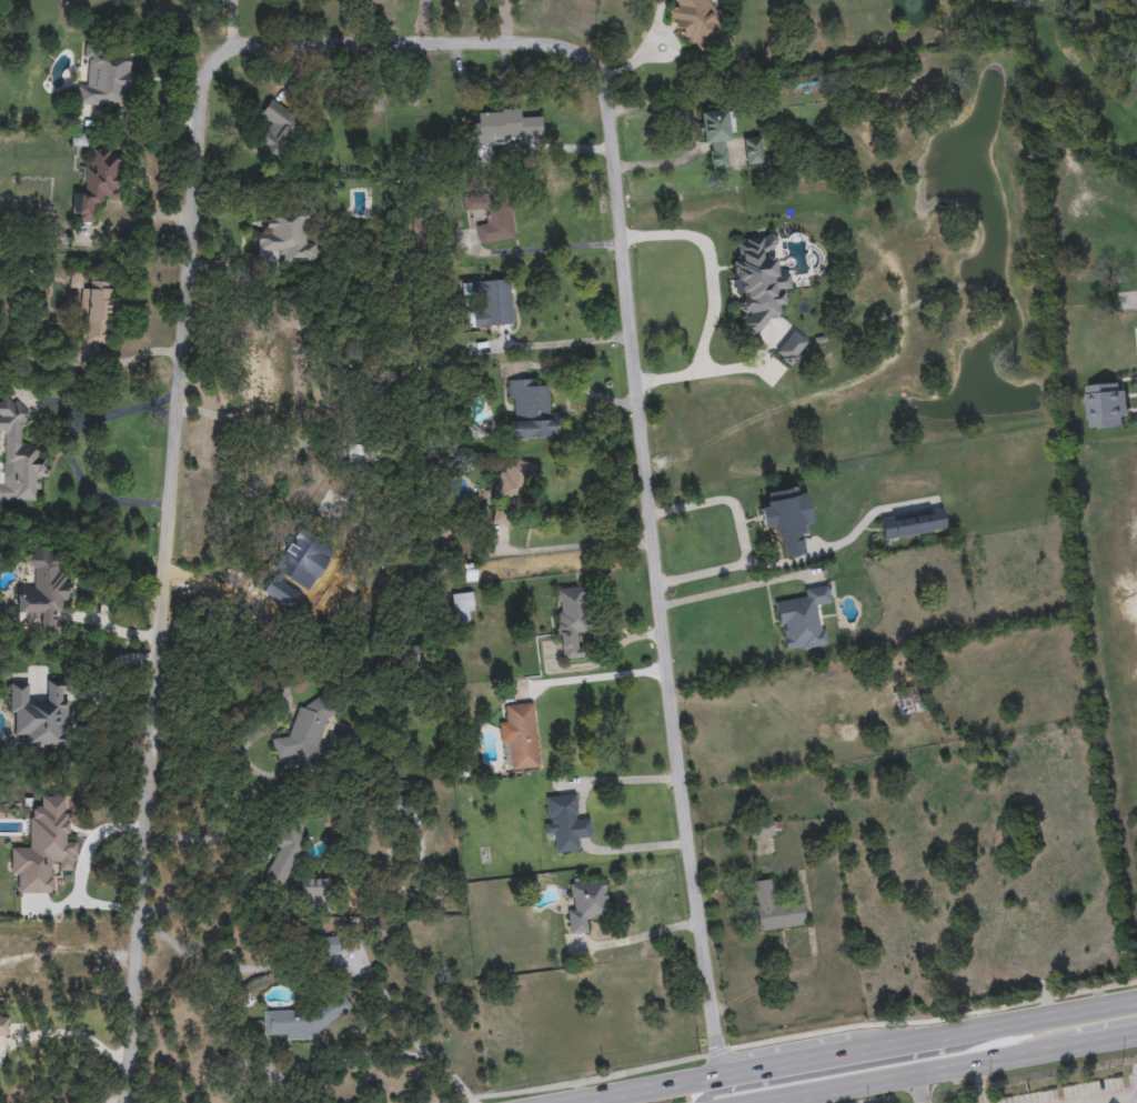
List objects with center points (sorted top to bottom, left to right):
road: (504, 21)
road: (420, 22)
road: (232, 24)
building: (700, 27)
road: (391, 43)
building: (105, 80)
road: (142, 122)
building: (276, 127)
building: (504, 127)
building: (716, 134)
building: (752, 150)
building: (94, 189)
building: (285, 237)
building: (76, 280)
road: (706, 297)
road: (1130, 300)
building: (493, 304)
building: (98, 312)
road: (571, 343)
building: (258, 372)
building: (1106, 407)
building: (530, 411)
road: (254, 430)
road: (70, 450)
building: (365, 455)
building: (17, 458)
building: (511, 488)
road: (726, 500)
building: (787, 519)
building: (912, 523)
road: (574, 549)
building: (301, 561)
road: (781, 565)
building: (43, 591)
building: (462, 608)
building: (571, 620)
building: (803, 620)
road: (602, 679)
road: (282, 706)
building: (39, 715)
building: (304, 734)
building: (519, 738)
road: (624, 782)
building: (574, 820)
road: (592, 822)
building: (761, 828)
road: (636, 850)
building: (285, 853)
road: (79, 872)
road: (246, 883)
building: (313, 890)
building: (585, 904)
building: (774, 909)
building: (329, 946)
road: (329, 970)
road: (995, 1030)
road: (66, 1034)
road: (793, 1037)
road: (1104, 1044)
road: (334, 1065)
road: (787, 1070)
road: (1030, 1071)
road: (835, 1072)
road: (929, 1076)
road: (978, 1085)
road: (918, 1091)
road: (663, 1093)
road: (1115, 1099)
road: (1128, 1100)
road: (1099, 1102)

